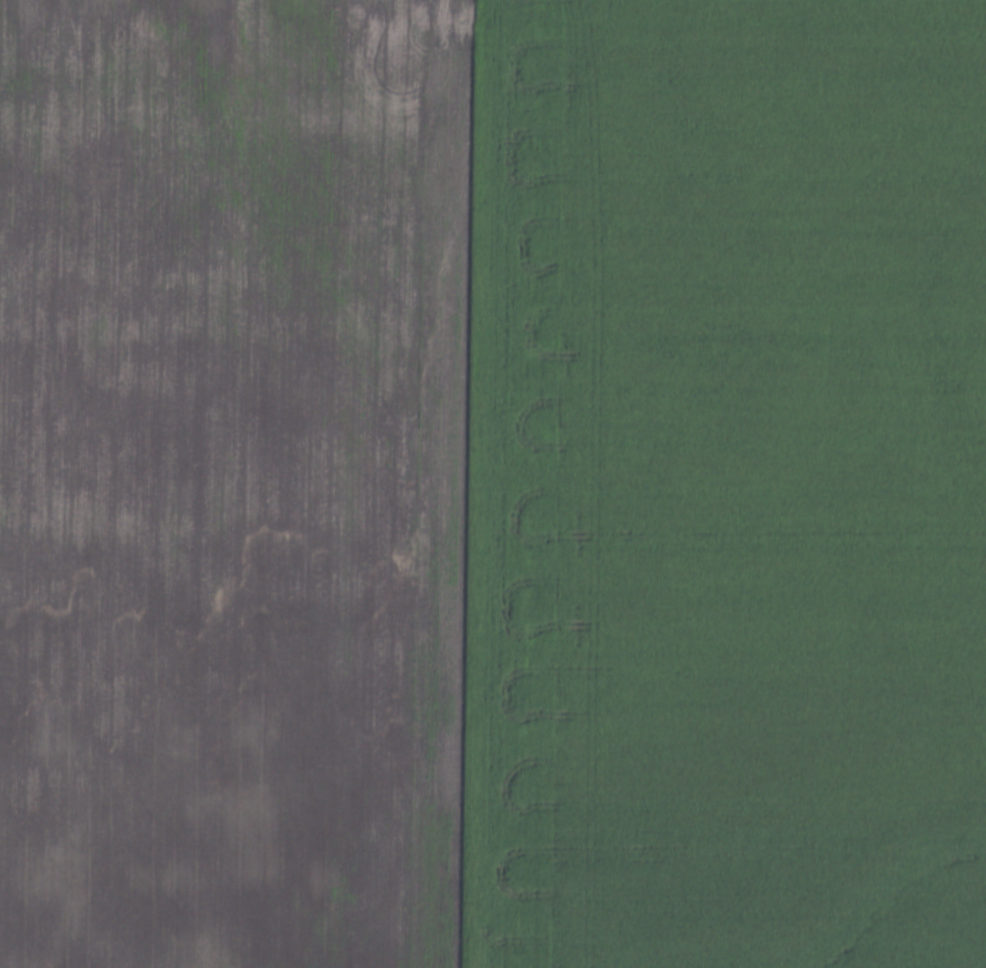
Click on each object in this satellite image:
crop: (493, 484)

